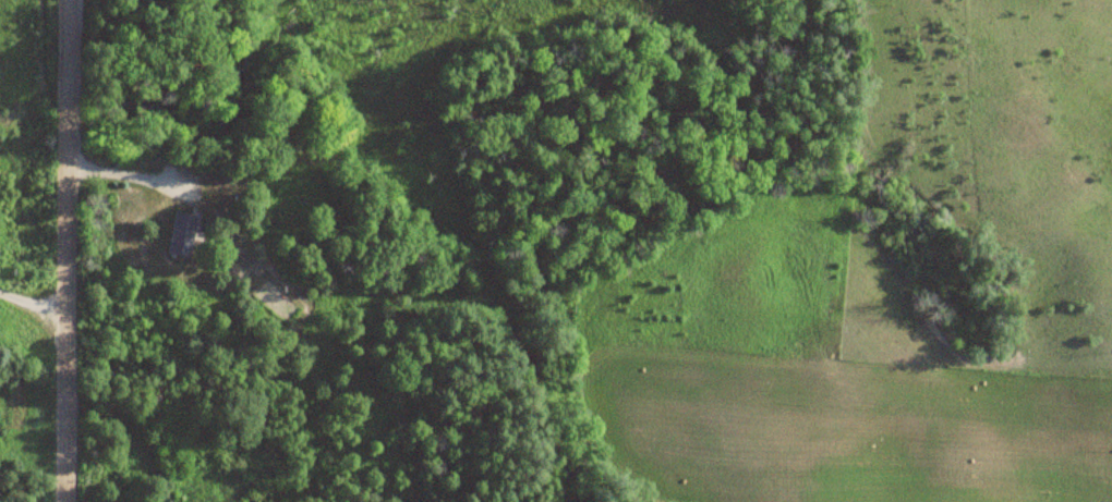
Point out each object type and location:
building: (182, 235)
road: (61, 250)

